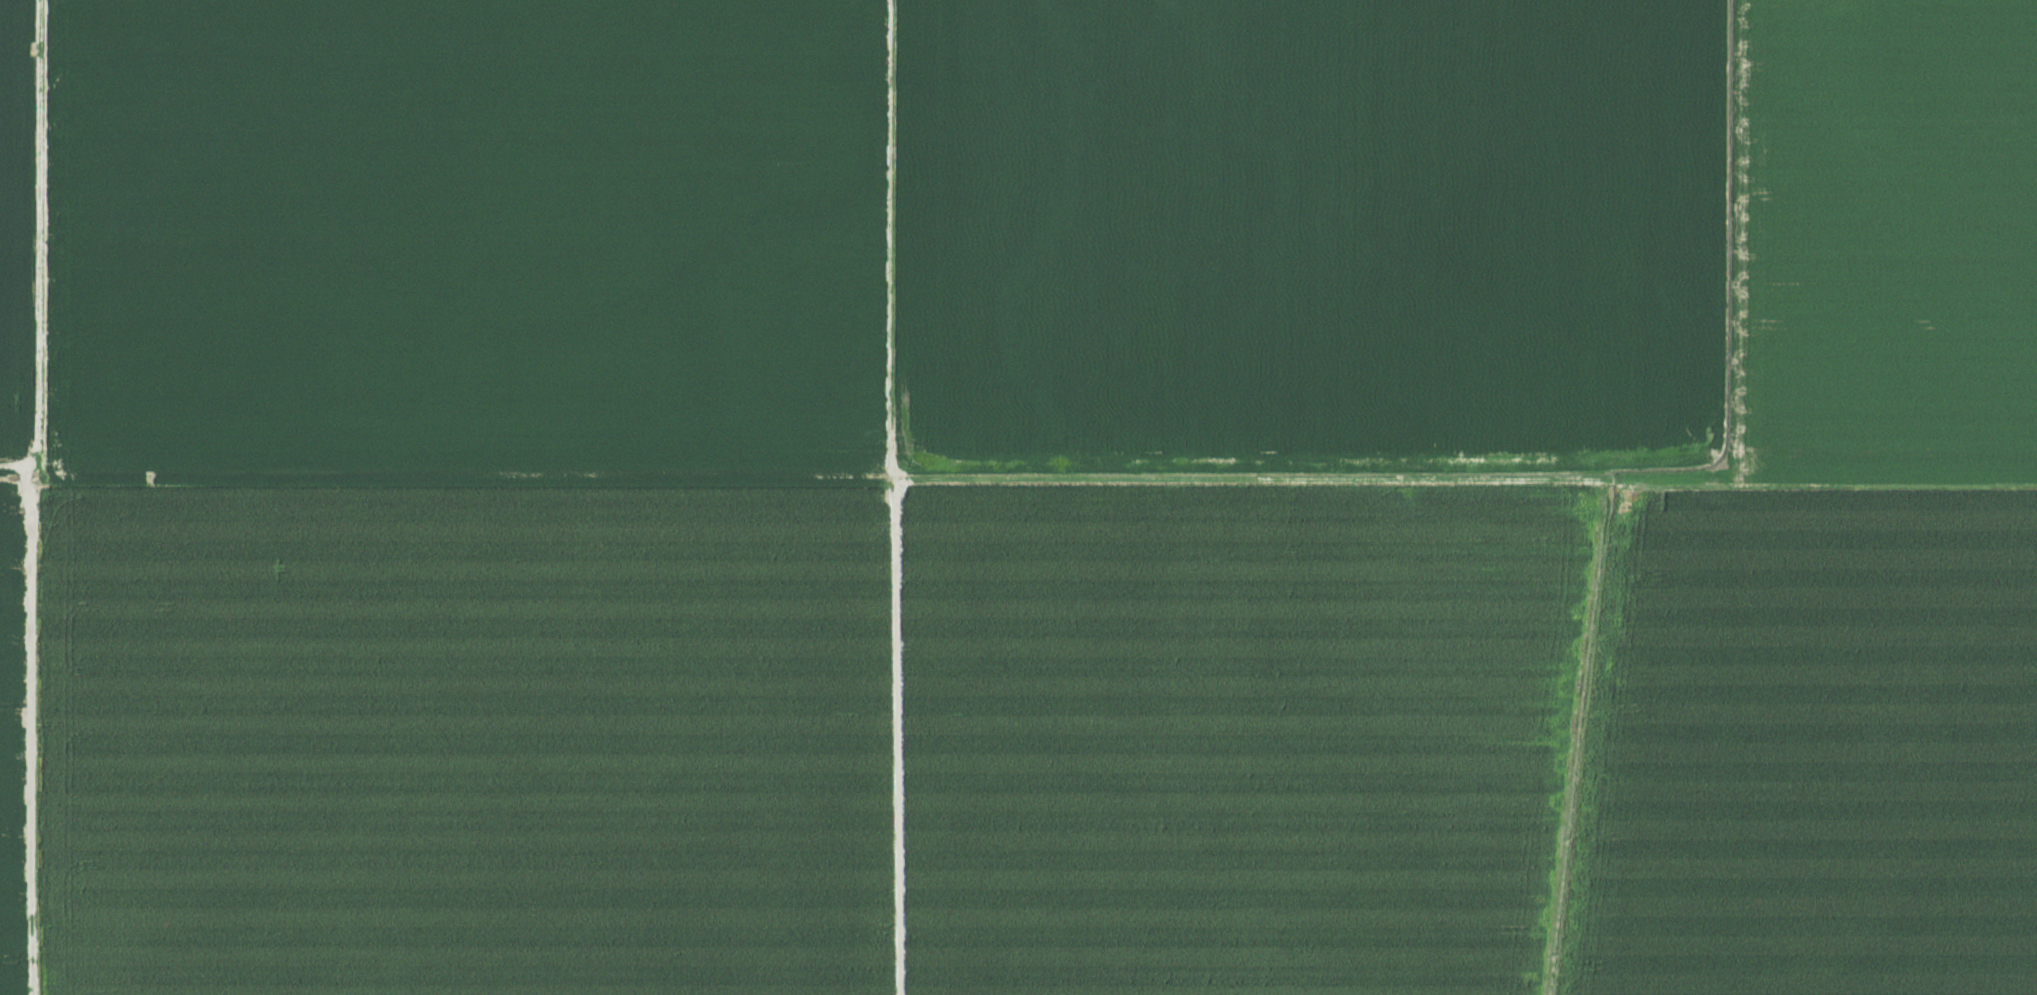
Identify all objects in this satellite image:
road: (1247, 476)

